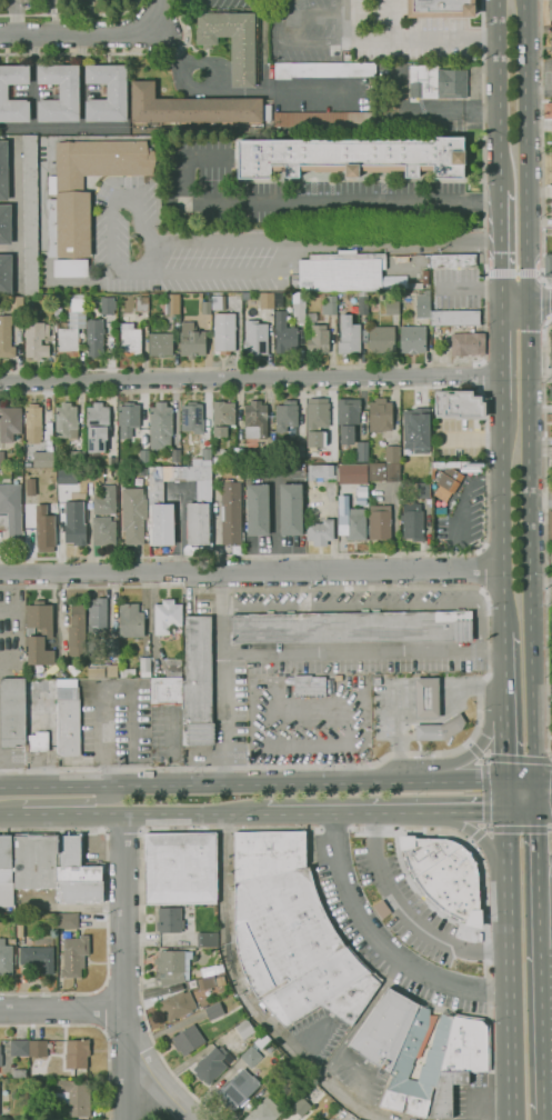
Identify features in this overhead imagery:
road: (214, 1)
building: (441, 8)
building: (550, 10)
road: (70, 12)
road: (16, 17)
road: (97, 33)
road: (403, 40)
building: (231, 41)
building: (551, 49)
road: (174, 51)
road: (119, 53)
building: (323, 69)
building: (436, 82)
road: (197, 84)
road: (539, 90)
building: (19, 91)
building: (3, 92)
building: (60, 92)
building: (108, 92)
road: (279, 93)
road: (499, 94)
building: (193, 108)
building: (549, 110)
building: (325, 119)
road: (542, 144)
road: (525, 149)
building: (351, 157)
building: (3, 170)
building: (73, 197)
road: (300, 200)
building: (30, 214)
building: (4, 223)
parking lot: (123, 236)
road: (390, 242)
road: (501, 244)
road: (151, 257)
building: (452, 260)
building: (548, 264)
building: (70, 268)
road: (279, 271)
building: (341, 271)
road: (513, 272)
building: (6, 273)
building: (425, 277)
building: (393, 282)
building: (414, 286)
road: (514, 299)
road: (540, 299)
building: (267, 300)
building: (279, 300)
building: (16, 302)
building: (218, 302)
building: (141, 303)
building: (107, 304)
building: (172, 304)
building: (331, 304)
building: (362, 304)
building: (423, 304)
building: (205, 307)
building: (299, 307)
building: (324, 308)
building: (392, 308)
building: (311, 317)
building: (454, 317)
building: (72, 328)
building: (224, 332)
building: (284, 333)
building: (349, 334)
building: (94, 336)
building: (6, 338)
building: (255, 338)
building: (319, 338)
building: (551, 338)
building: (381, 339)
building: (412, 339)
building: (36, 340)
building: (130, 341)
building: (191, 341)
building: (160, 344)
building: (466, 344)
road: (502, 354)
building: (551, 359)
road: (422, 363)
road: (250, 377)
road: (478, 377)
building: (551, 391)
building: (463, 406)
building: (191, 416)
building: (285, 416)
building: (380, 416)
building: (128, 418)
building: (223, 418)
building: (255, 419)
building: (348, 419)
building: (66, 421)
building: (317, 421)
building: (9, 423)
building: (33, 423)
building: (160, 424)
building: (97, 427)
building: (416, 430)
building: (299, 451)
building: (362, 451)
building: (264, 452)
building: (238, 453)
building: (392, 453)
building: (78, 454)
building: (175, 454)
building: (205, 454)
building: (377, 456)
building: (143, 457)
building: (1, 459)
building: (41, 459)
building: (112, 461)
building: (550, 467)
road: (486, 470)
building: (122, 471)
building: (130, 471)
building: (142, 471)
building: (322, 471)
building: (384, 471)
building: (350, 472)
building: (93, 474)
building: (64, 477)
building: (172, 478)
building: (448, 482)
building: (423, 490)
building: (361, 494)
building: (104, 501)
road: (540, 501)
building: (291, 508)
building: (258, 509)
building: (11, 512)
building: (230, 512)
building: (133, 514)
building: (351, 520)
building: (412, 521)
road: (502, 521)
building: (380, 522)
building: (74, 523)
building: (198, 523)
building: (161, 524)
building: (550, 526)
building: (103, 530)
building: (44, 532)
building: (320, 532)
road: (545, 534)
road: (529, 540)
building: (551, 559)
road: (251, 570)
road: (479, 570)
road: (378, 603)
building: (97, 613)
building: (167, 616)
building: (130, 620)
building: (353, 627)
building: (47, 630)
building: (77, 630)
road: (502, 637)
building: (113, 647)
road: (363, 651)
road: (489, 661)
building: (144, 667)
building: (173, 667)
building: (72, 669)
building: (103, 671)
building: (128, 672)
road: (502, 677)
road: (227, 678)
building: (377, 680)
building: (198, 682)
building: (330, 686)
building: (309, 687)
building: (165, 690)
building: (40, 697)
building: (426, 698)
gas station: (426, 698)
road: (345, 706)
building: (12, 712)
building: (68, 718)
building: (440, 729)
building: (38, 741)
road: (468, 743)
road: (503, 747)
road: (463, 759)
road: (516, 759)
road: (551, 759)
road: (551, 780)
road: (520, 781)
traffic signals: (535, 781)
road: (543, 781)
traffic signals: (505, 782)
road: (252, 783)
road: (484, 791)
road: (535, 797)
road: (62, 800)
road: (385, 812)
traffic signals: (506, 812)
road: (529, 812)
traffic signals: (536, 812)
road: (61, 813)
road: (194, 814)
road: (291, 828)
road: (519, 828)
road: (124, 838)
road: (470, 840)
road: (483, 843)
road: (536, 853)
building: (34, 861)
building: (73, 862)
building: (180, 868)
building: (6, 872)
building: (443, 874)
road: (545, 877)
building: (79, 892)
road: (107, 908)
building: (19, 920)
building: (67, 920)
building: (170, 920)
road: (413, 921)
road: (542, 922)
building: (20, 930)
building: (291, 933)
building: (207, 939)
road: (381, 942)
road: (509, 950)
building: (74, 956)
building: (6, 958)
building: (38, 958)
road: (231, 962)
road: (123, 966)
building: (171, 967)
building: (209, 971)
road: (124, 978)
building: (207, 982)
road: (370, 1001)
building: (177, 1004)
road: (99, 1009)
road: (64, 1010)
building: (213, 1011)
road: (96, 1027)
building: (244, 1029)
road: (545, 1031)
road: (549, 1031)
building: (188, 1040)
building: (261, 1042)
building: (19, 1048)
building: (40, 1048)
building: (270, 1048)
building: (77, 1053)
building: (0, 1057)
building: (251, 1057)
building: (458, 1057)
building: (270, 1062)
building: (210, 1066)
building: (0, 1068)
building: (19, 1073)
road: (365, 1076)
road: (155, 1077)
building: (272, 1080)
building: (237, 1089)
road: (338, 1092)
building: (73, 1096)
building: (301, 1107)
building: (264, 1110)
road: (548, 1117)
road: (159, 1119)
building: (327, 1119)
building: (357, 1119)

